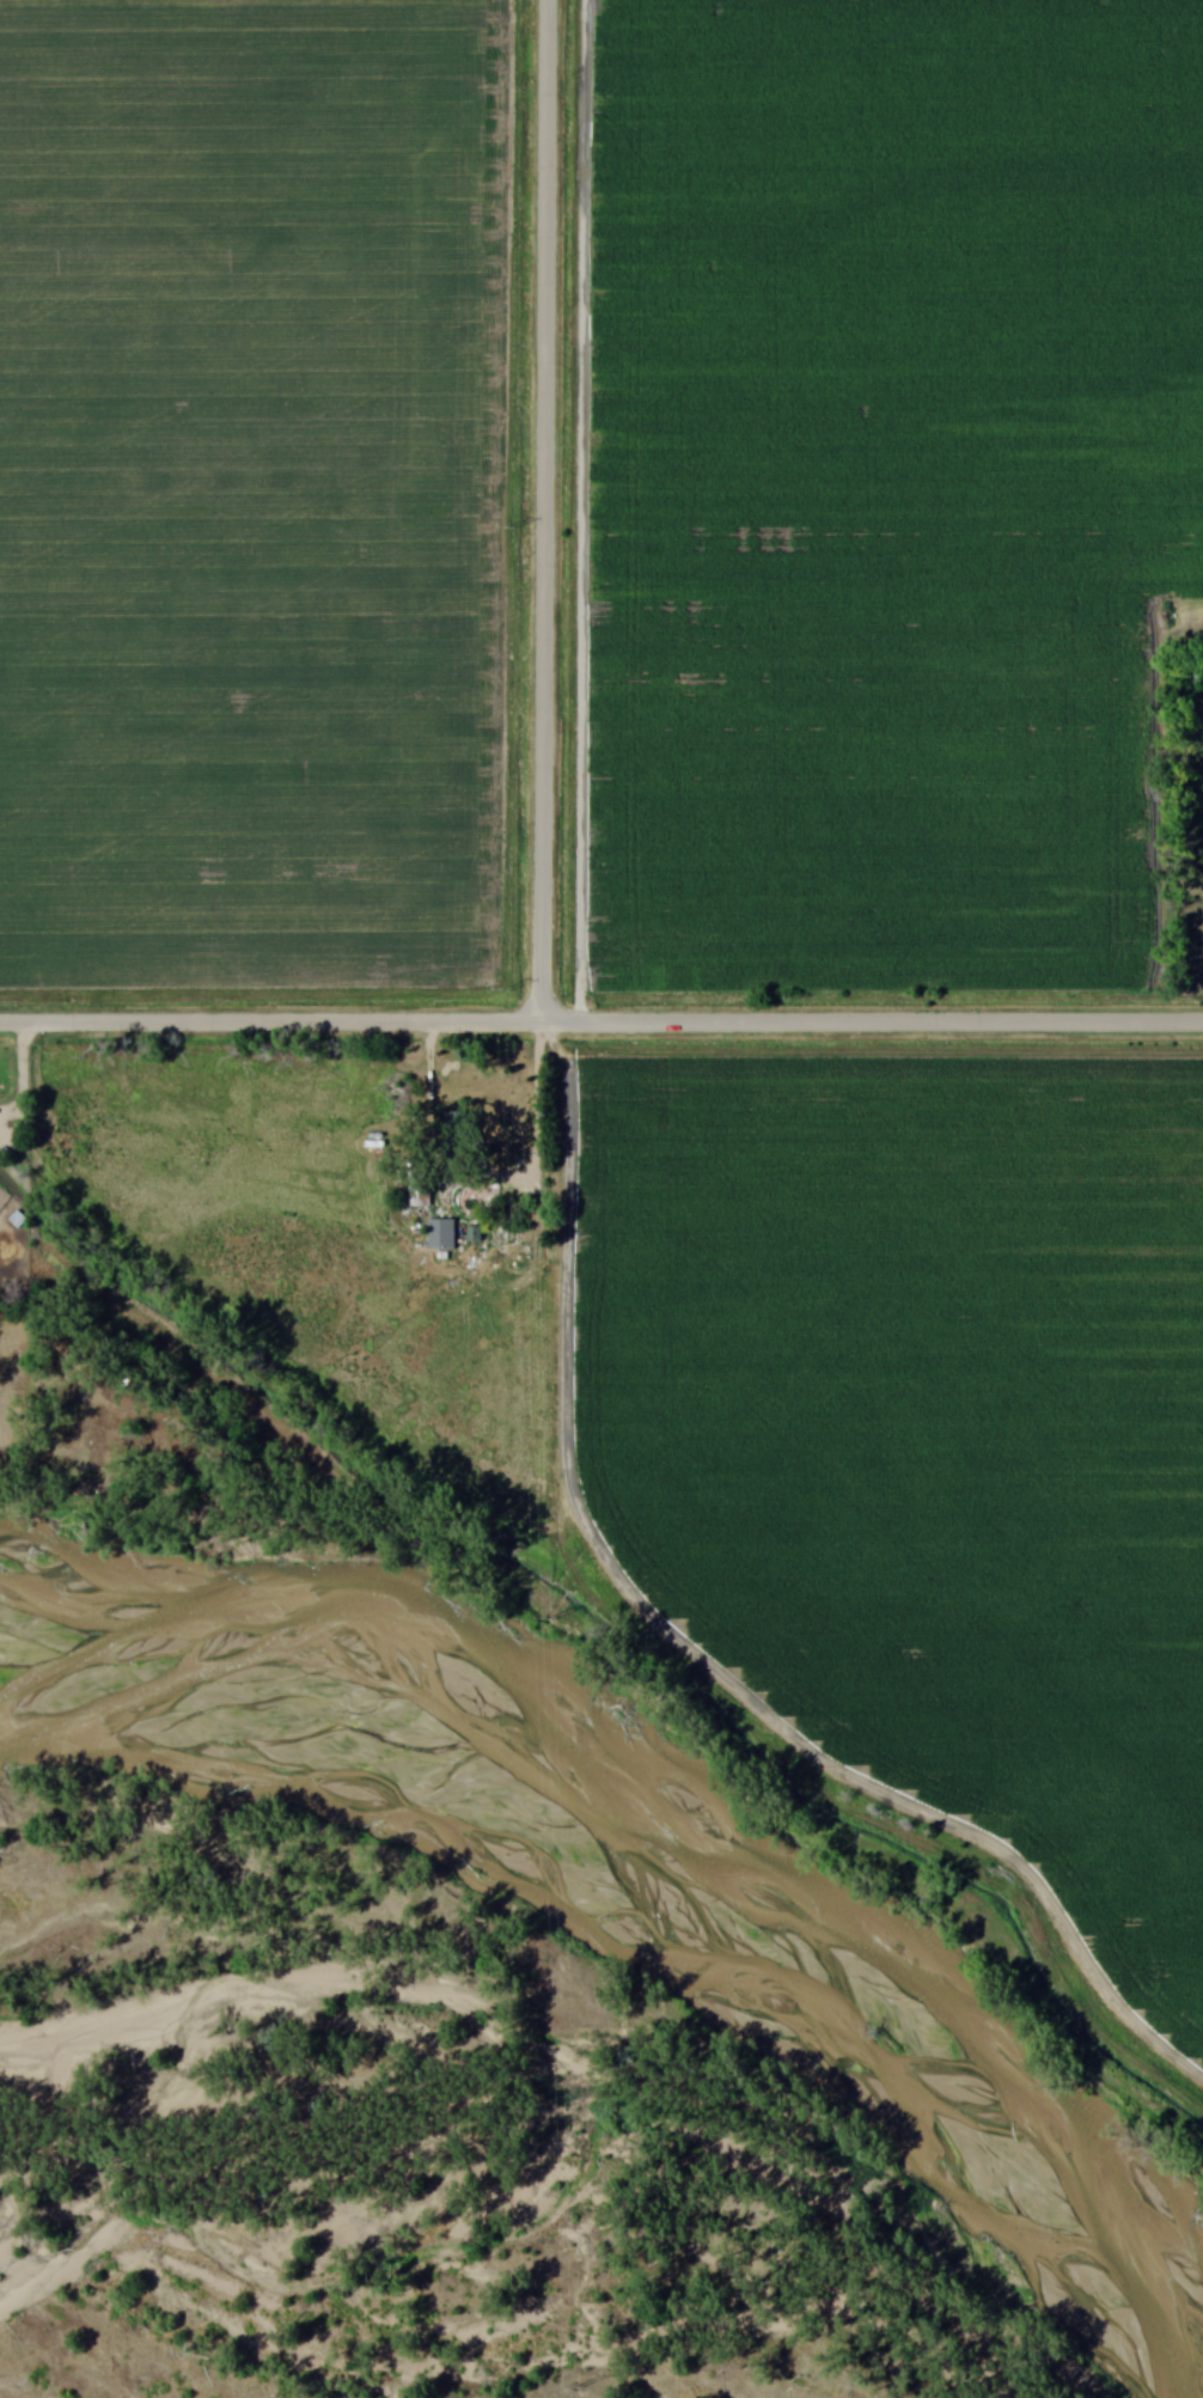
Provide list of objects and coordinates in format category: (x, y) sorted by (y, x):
crop: (891, 489)
crop: (240, 493)
road: (545, 508)
road: (270, 1017)
road: (873, 1020)
road: (490, 1173)
building: (420, 1189)
building: (445, 1229)
crop: (927, 1430)
river: (688, 1813)

